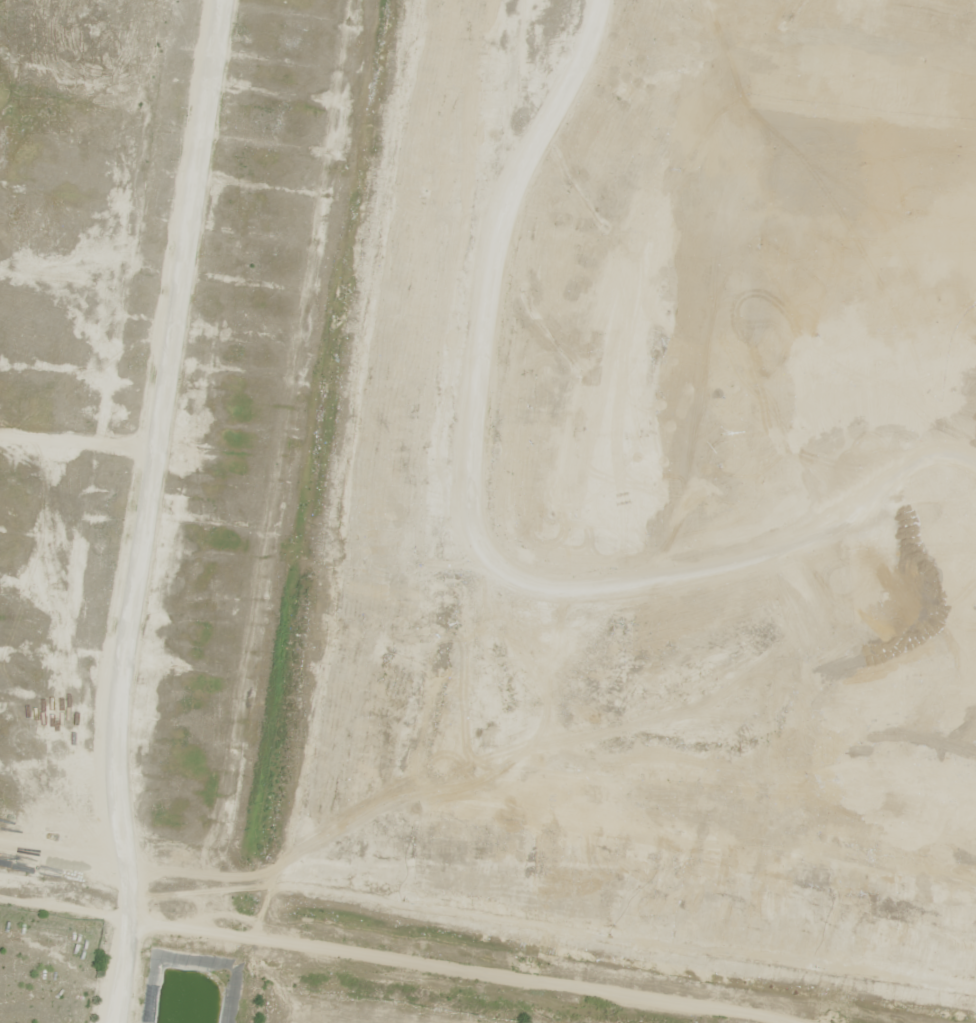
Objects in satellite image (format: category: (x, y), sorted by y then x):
road: (507, 208)
road: (145, 510)

